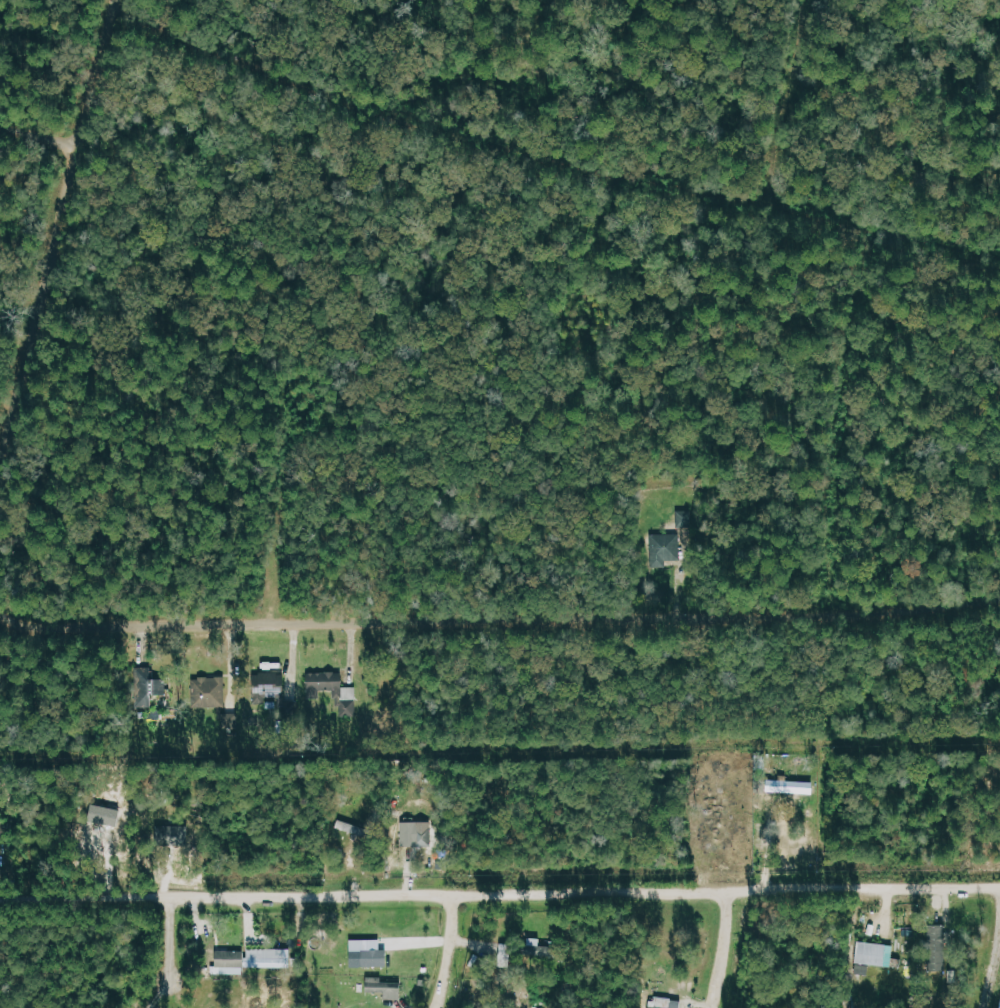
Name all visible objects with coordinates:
road: (786, 103)
road: (41, 136)
road: (550, 157)
road: (597, 217)
road: (60, 236)
road: (837, 422)
road: (277, 509)
building: (667, 546)
road: (498, 620)
building: (269, 683)
building: (325, 683)
building: (148, 685)
building: (208, 691)
building: (231, 725)
building: (791, 786)
building: (351, 828)
building: (173, 832)
building: (415, 833)
building: (161, 834)
road: (500, 895)
road: (170, 940)
building: (939, 941)
building: (365, 944)
building: (541, 948)
road: (723, 950)
road: (449, 953)
building: (507, 954)
building: (369, 956)
building: (876, 956)
building: (228, 957)
building: (269, 962)
road: (992, 974)
building: (384, 986)
building: (656, 1007)

